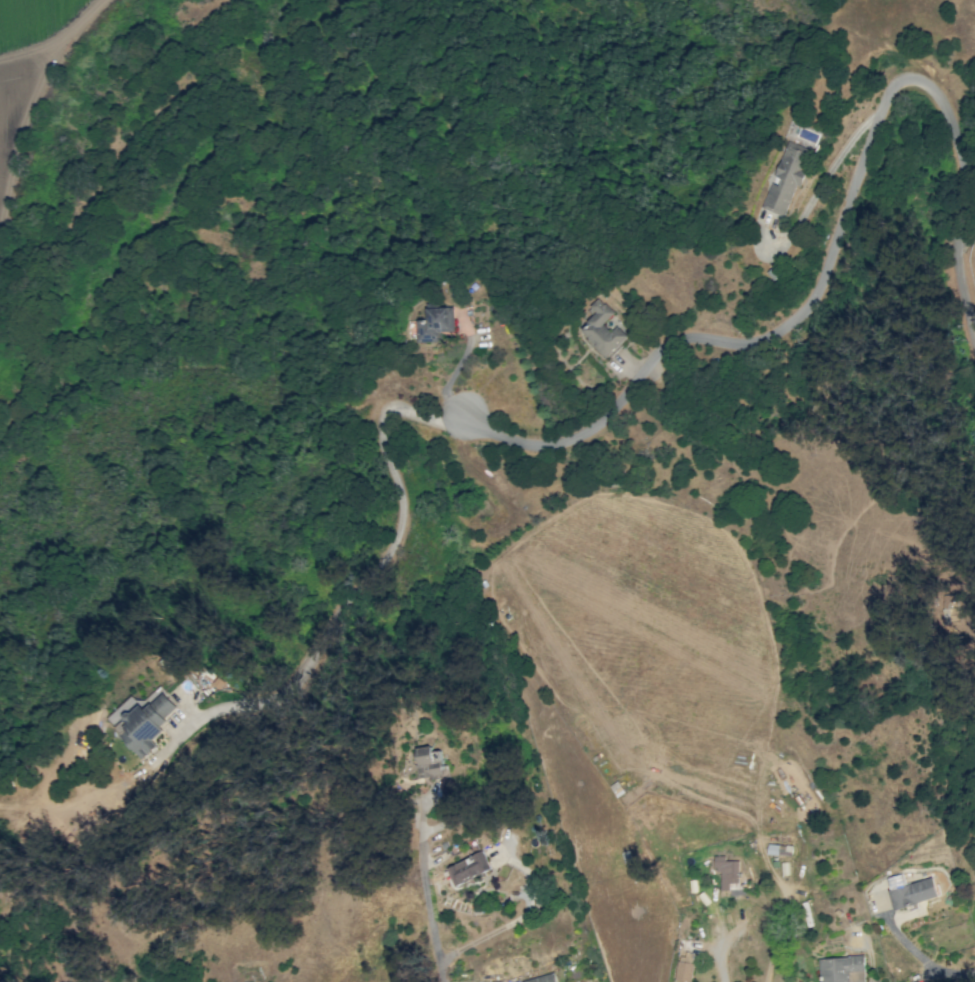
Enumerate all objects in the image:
crop: (24, 69)
road: (28, 130)
road: (969, 167)
building: (787, 179)
road: (837, 250)
building: (434, 323)
building: (602, 328)
road: (386, 556)
building: (176, 672)
building: (144, 722)
building: (465, 869)
building: (727, 871)
building: (913, 893)
road: (428, 898)
building: (685, 956)
road: (921, 958)
building: (842, 969)
building: (683, 971)
building: (543, 979)

